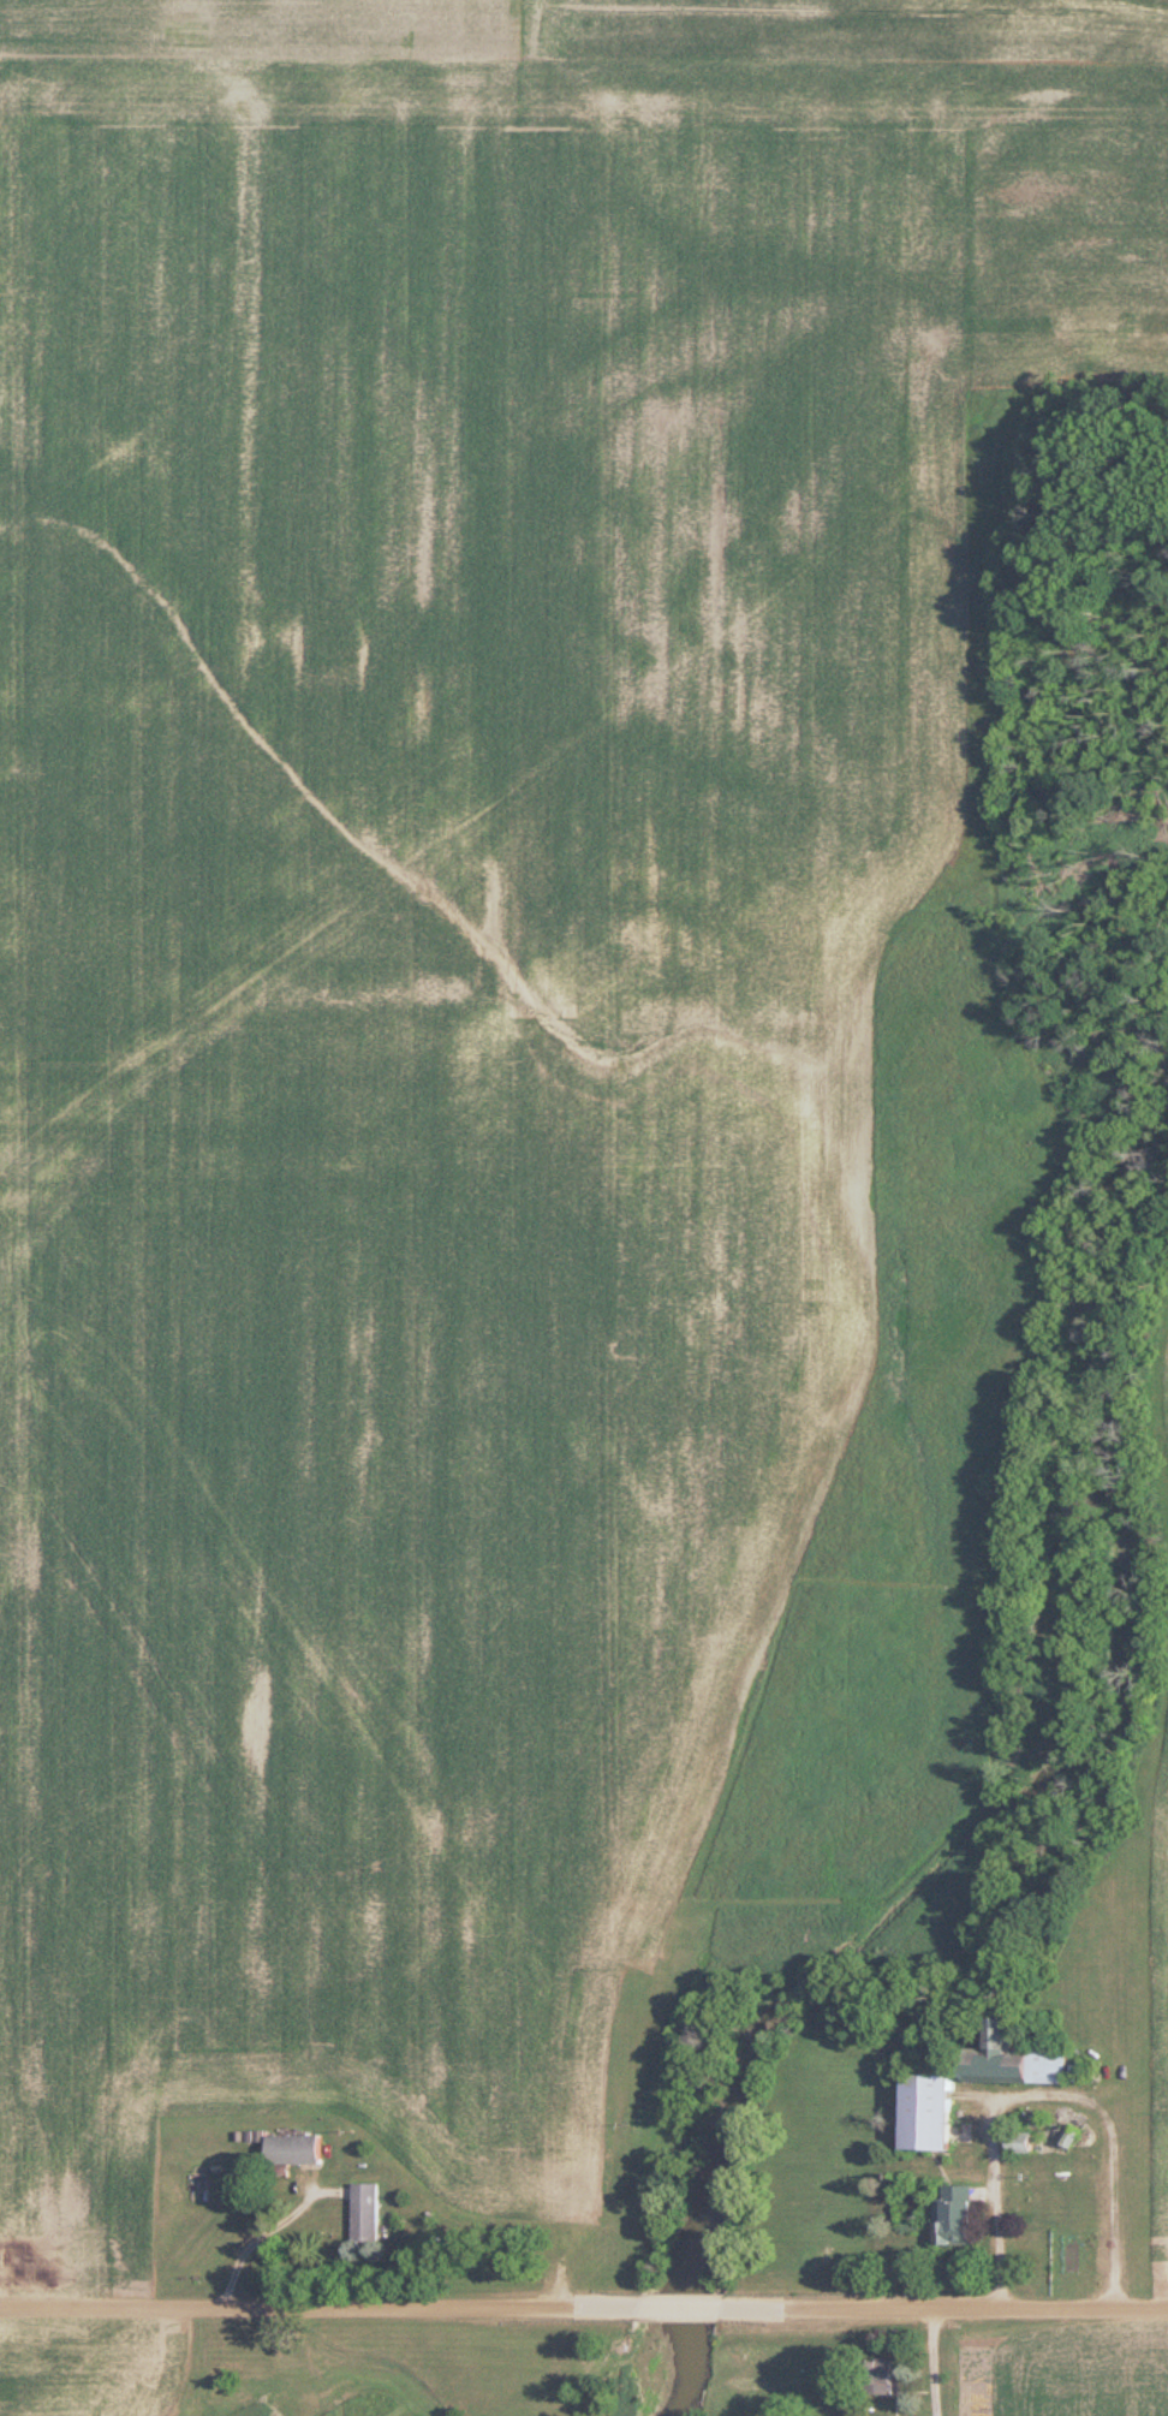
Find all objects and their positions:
river: (1029, 1821)
building: (1009, 2059)
road: (1050, 2093)
building: (922, 2113)
building: (1030, 2132)
building: (292, 2149)
building: (364, 2212)
building: (952, 2215)
road: (261, 2238)
road: (305, 2308)
road: (679, 2308)
road: (957, 2310)
building: (876, 2376)

